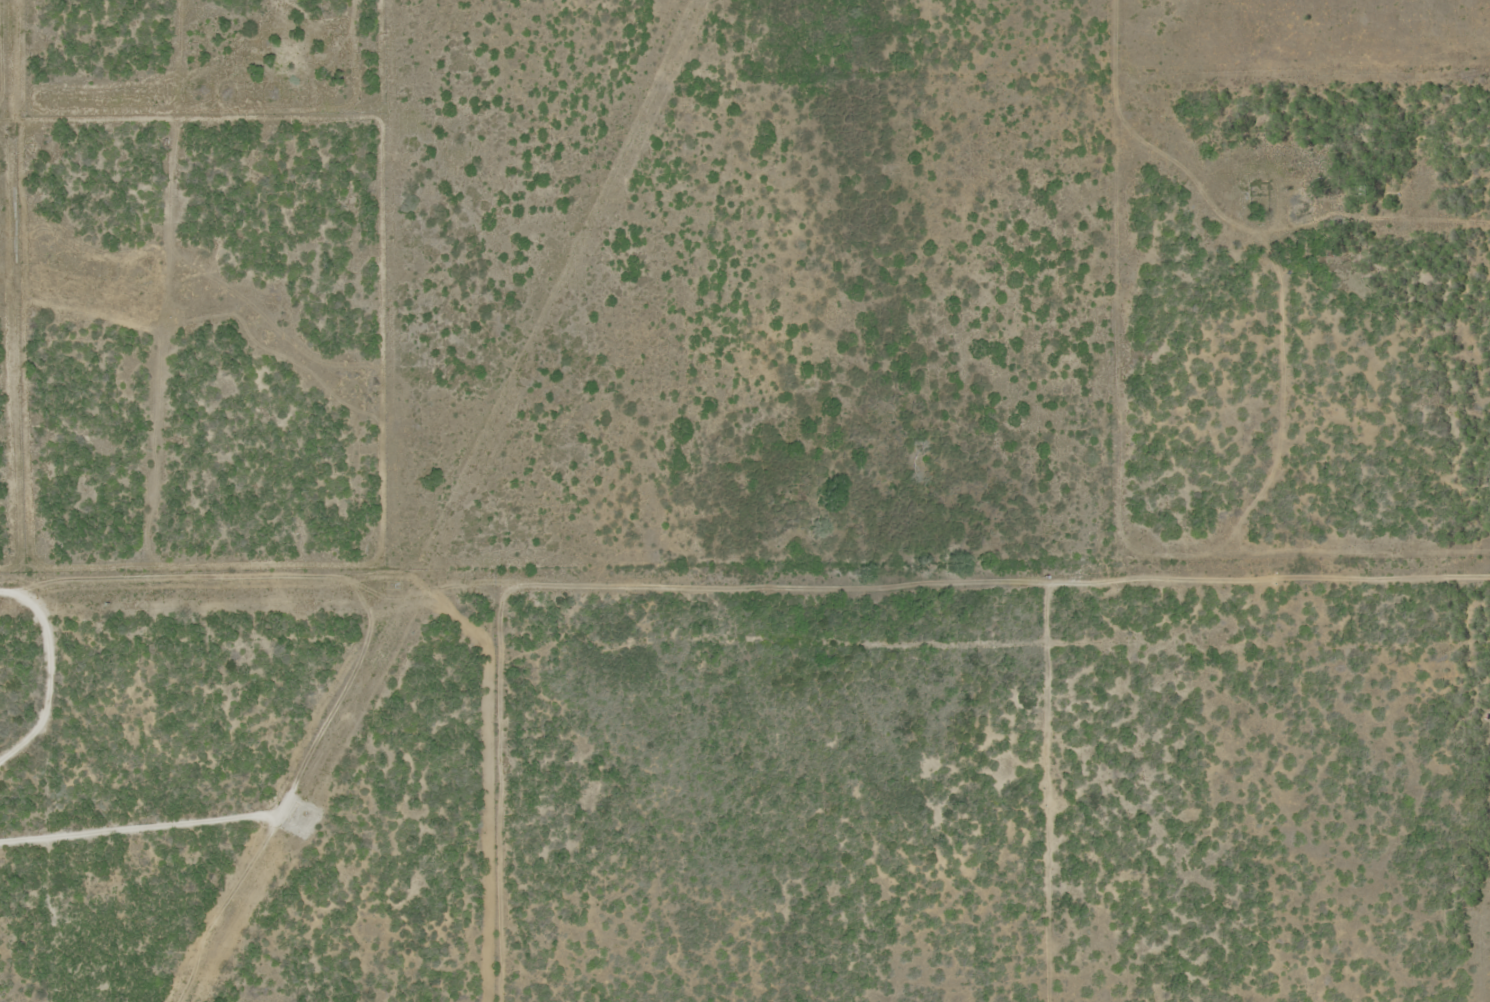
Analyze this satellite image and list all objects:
road: (24, 843)

